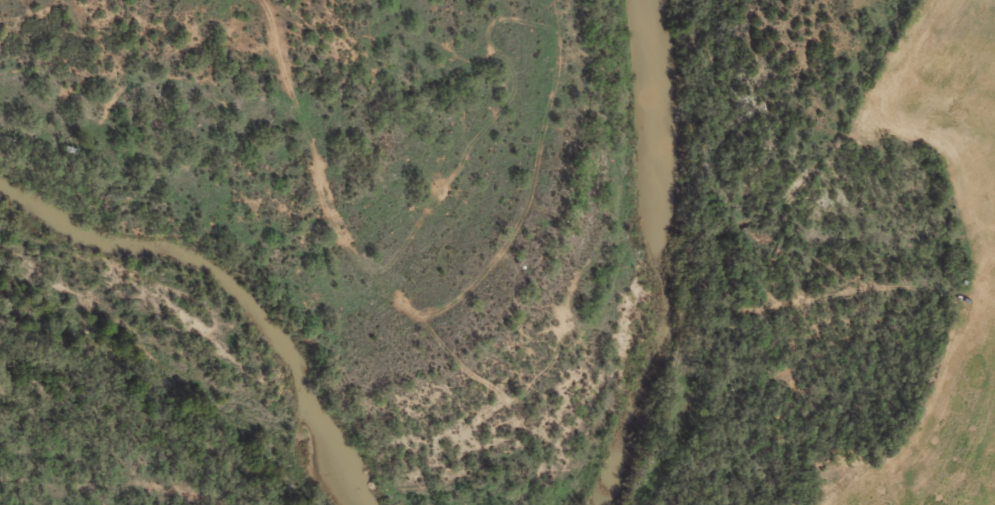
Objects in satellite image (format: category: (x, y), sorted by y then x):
road: (975, 254)
river: (660, 259)
river: (228, 288)

